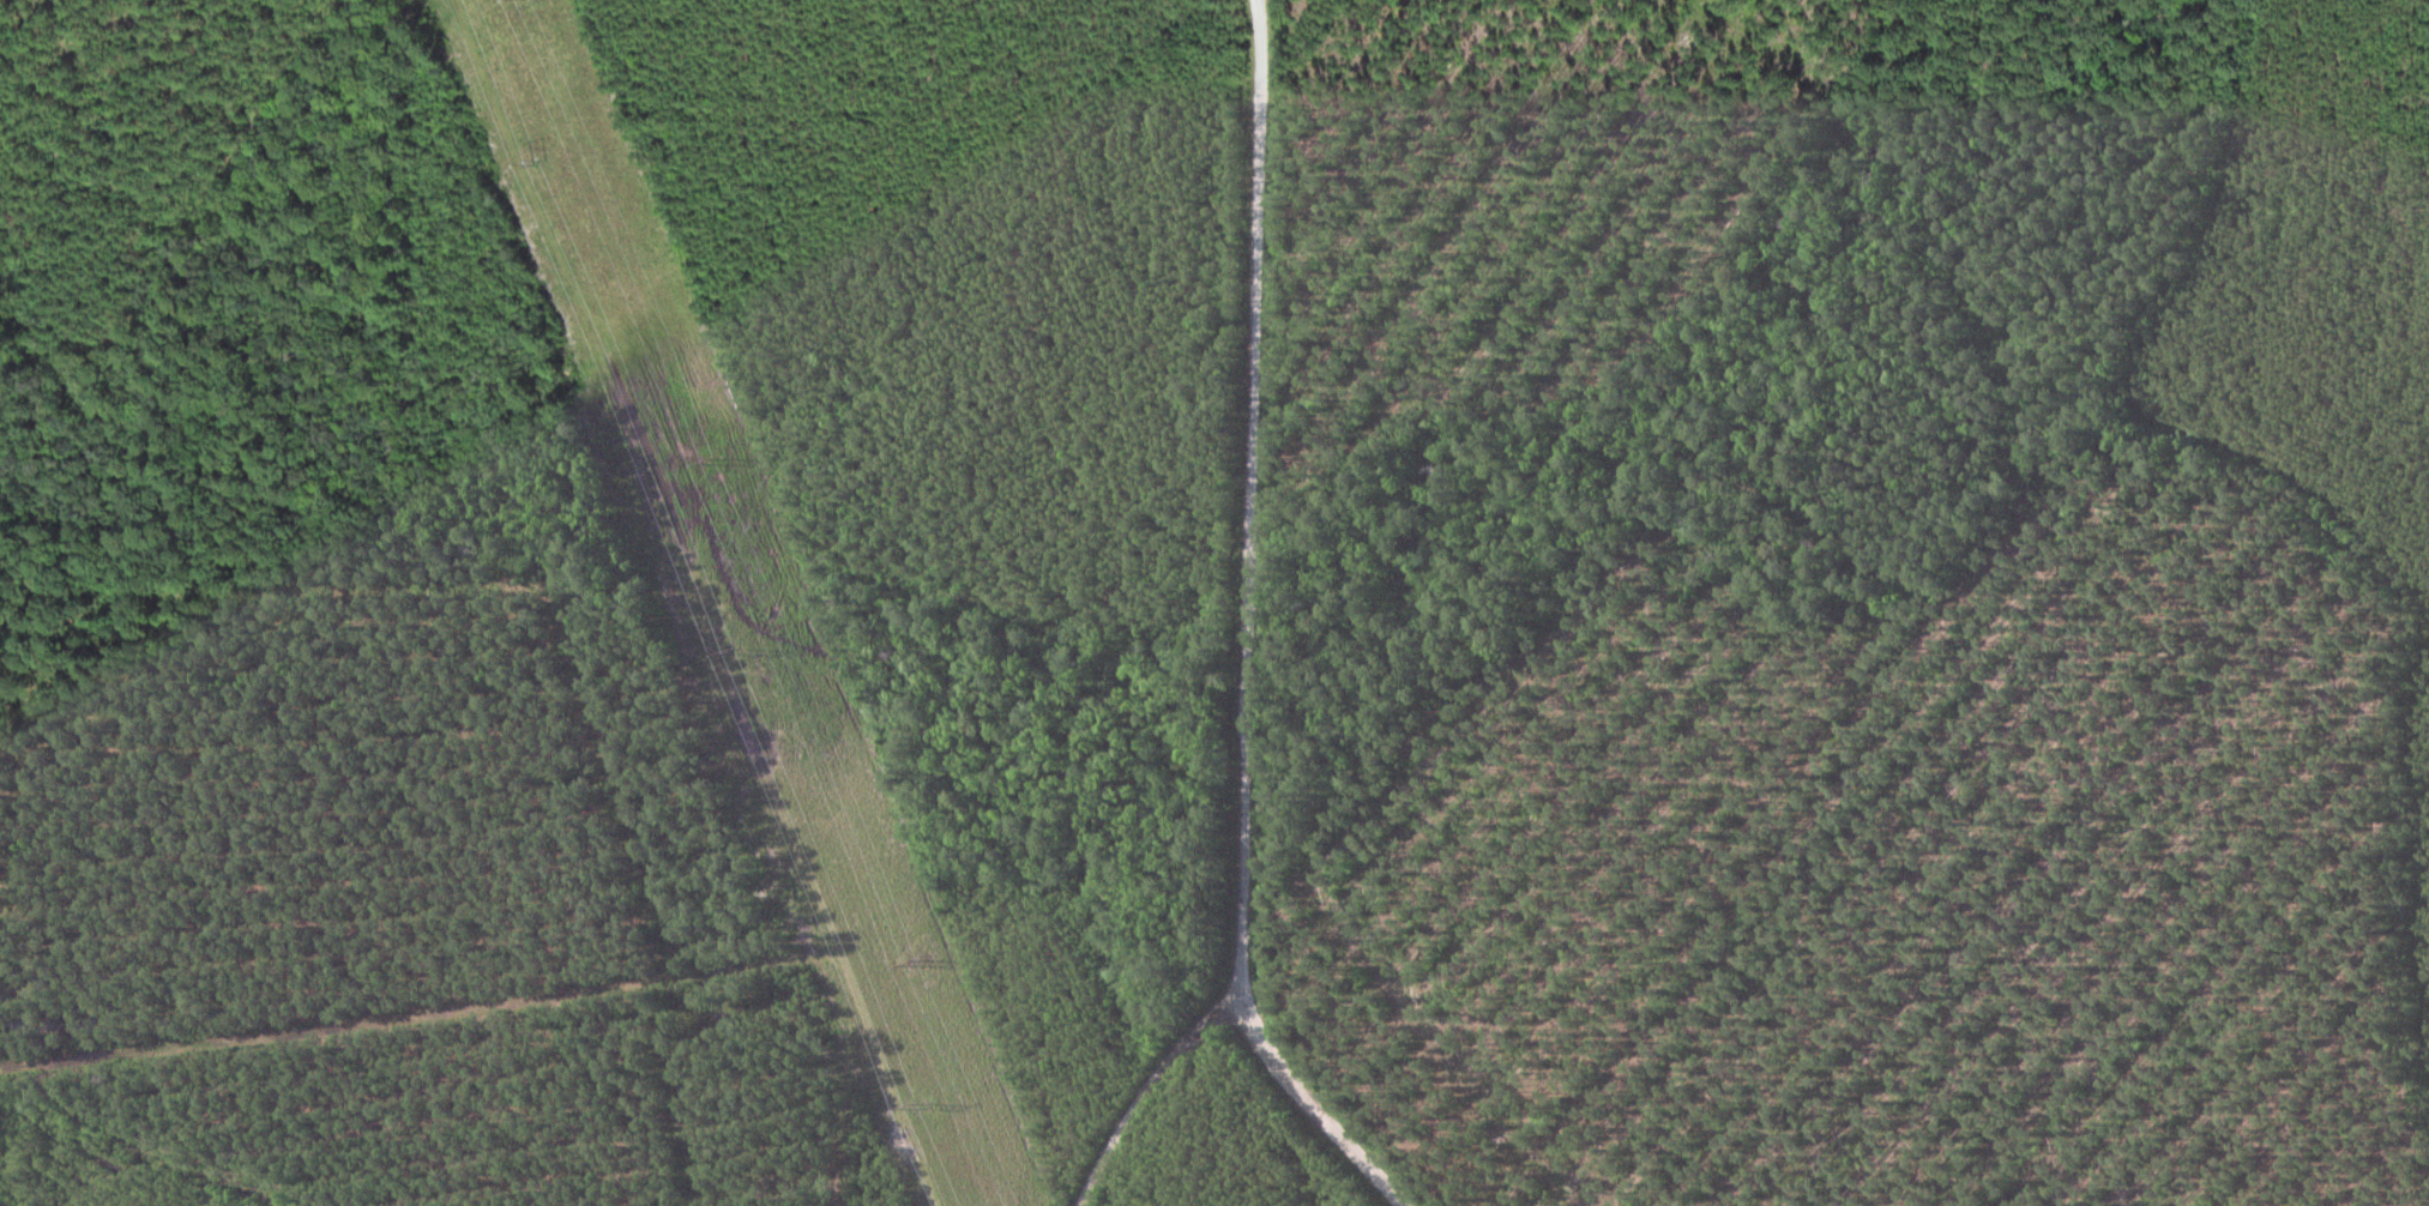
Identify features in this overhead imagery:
power tower: (542, 161)
power tower: (716, 460)
road: (1253, 638)
power tower: (741, 651)
power tower: (916, 963)
power tower: (917, 1108)
road: (1322, 1124)

